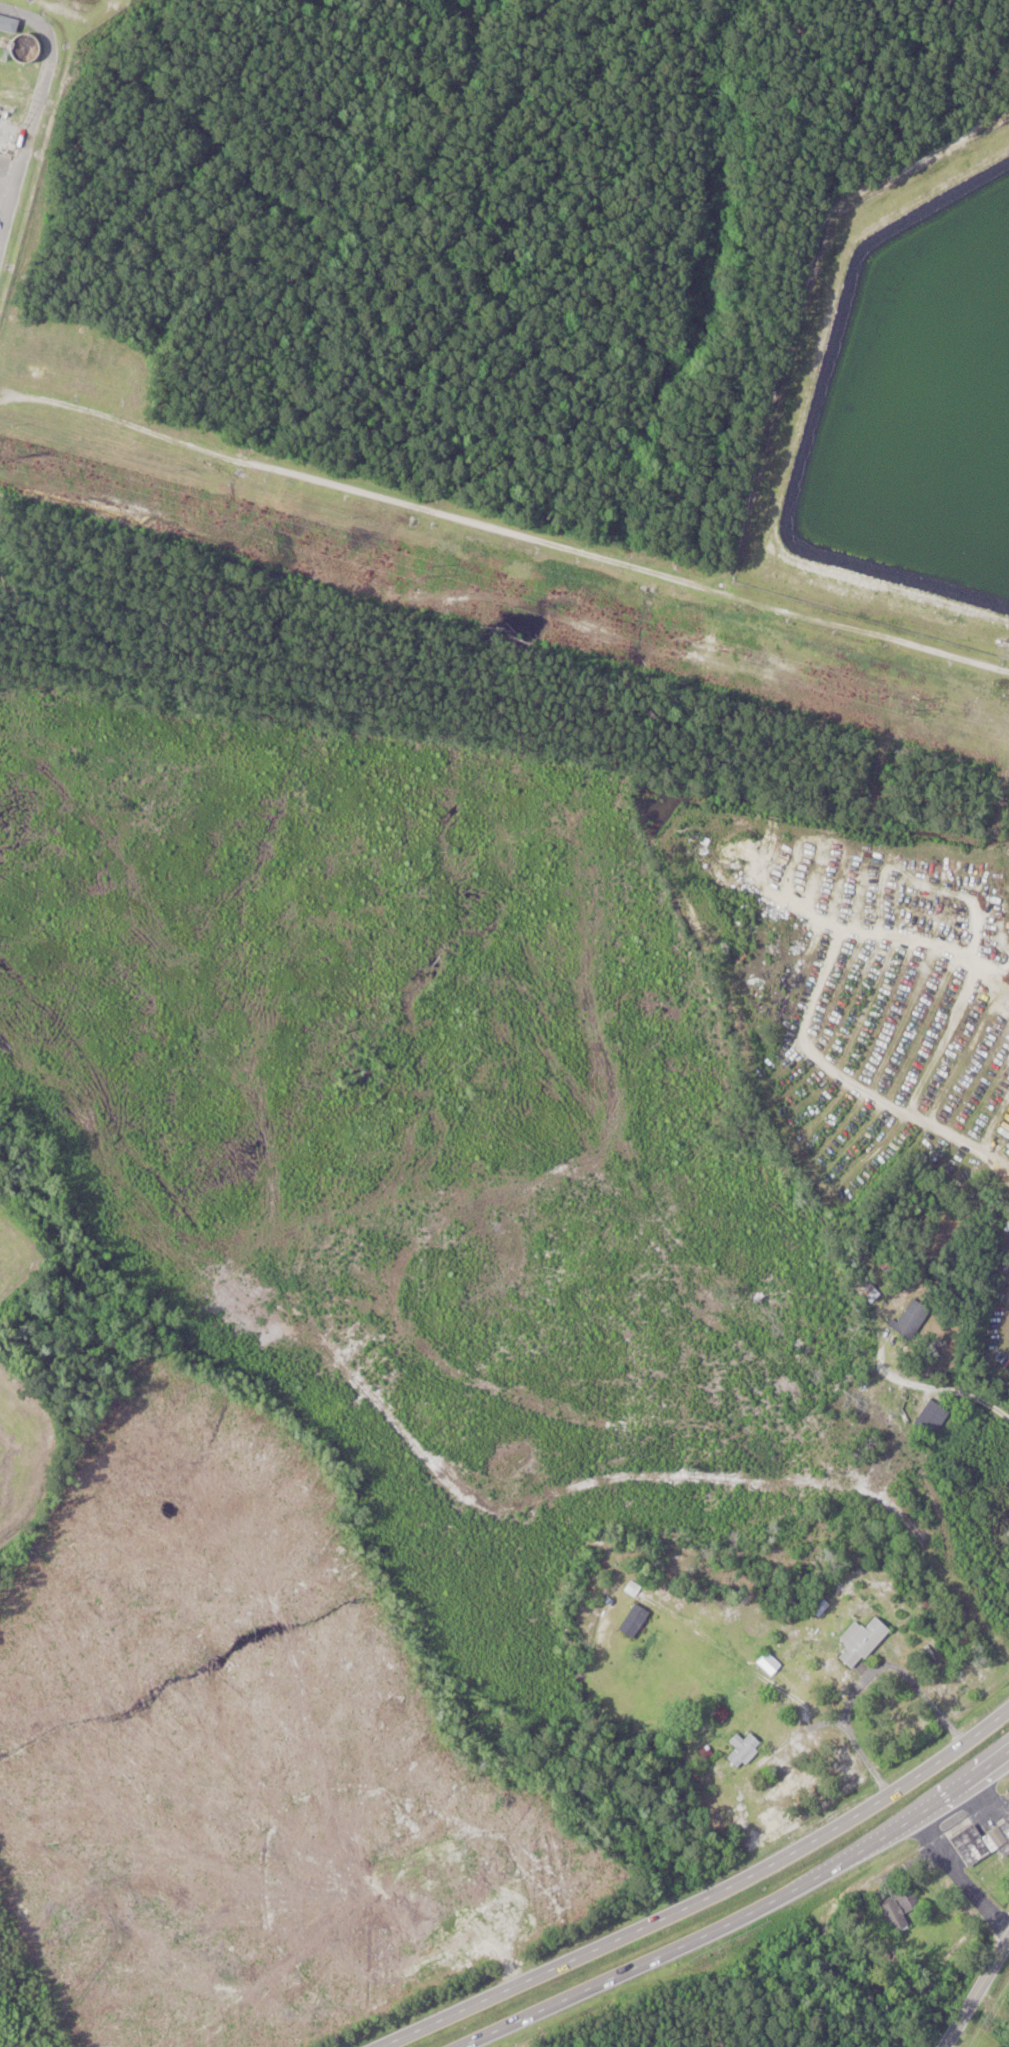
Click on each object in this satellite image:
wastewater plant: (34, 101)
power tower: (428, 571)
power tower: (909, 704)
road: (859, 1089)
building: (913, 1320)
road: (953, 1386)
building: (933, 1416)
building: (867, 1448)
building: (635, 1621)
building: (864, 1641)
building: (771, 1663)
road: (865, 1676)
road: (800, 1734)
building: (746, 1749)
building: (983, 1843)
road: (701, 1898)
building: (901, 1909)
road: (740, 1914)
road: (974, 1991)

